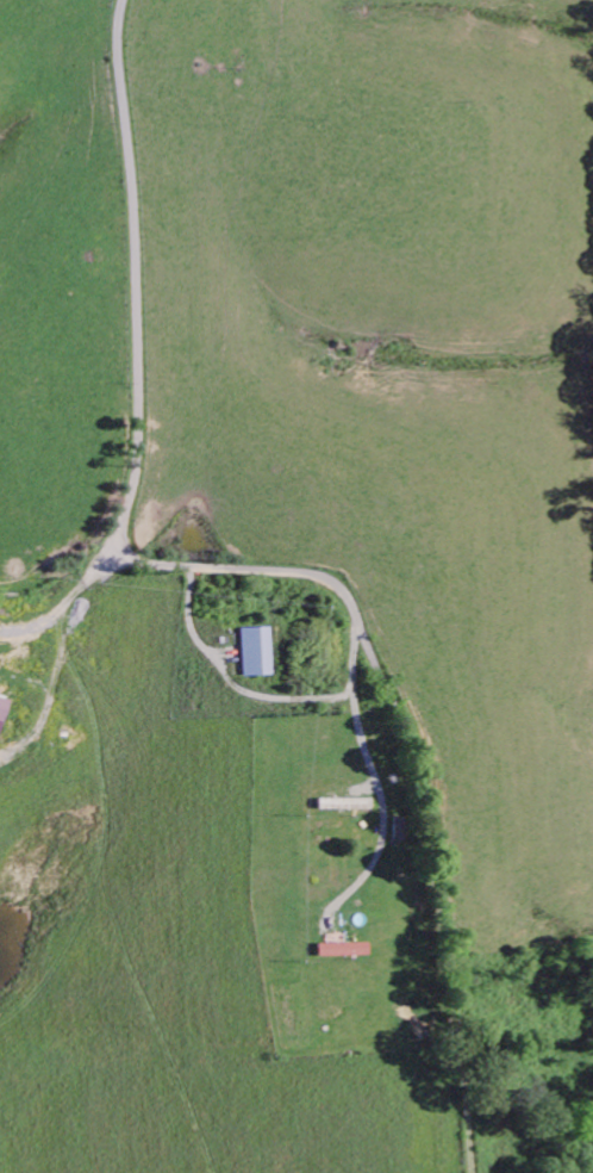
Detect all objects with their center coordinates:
road: (135, 271)
building: (257, 652)
building: (1, 707)
building: (344, 805)
building: (398, 833)
building: (344, 950)

